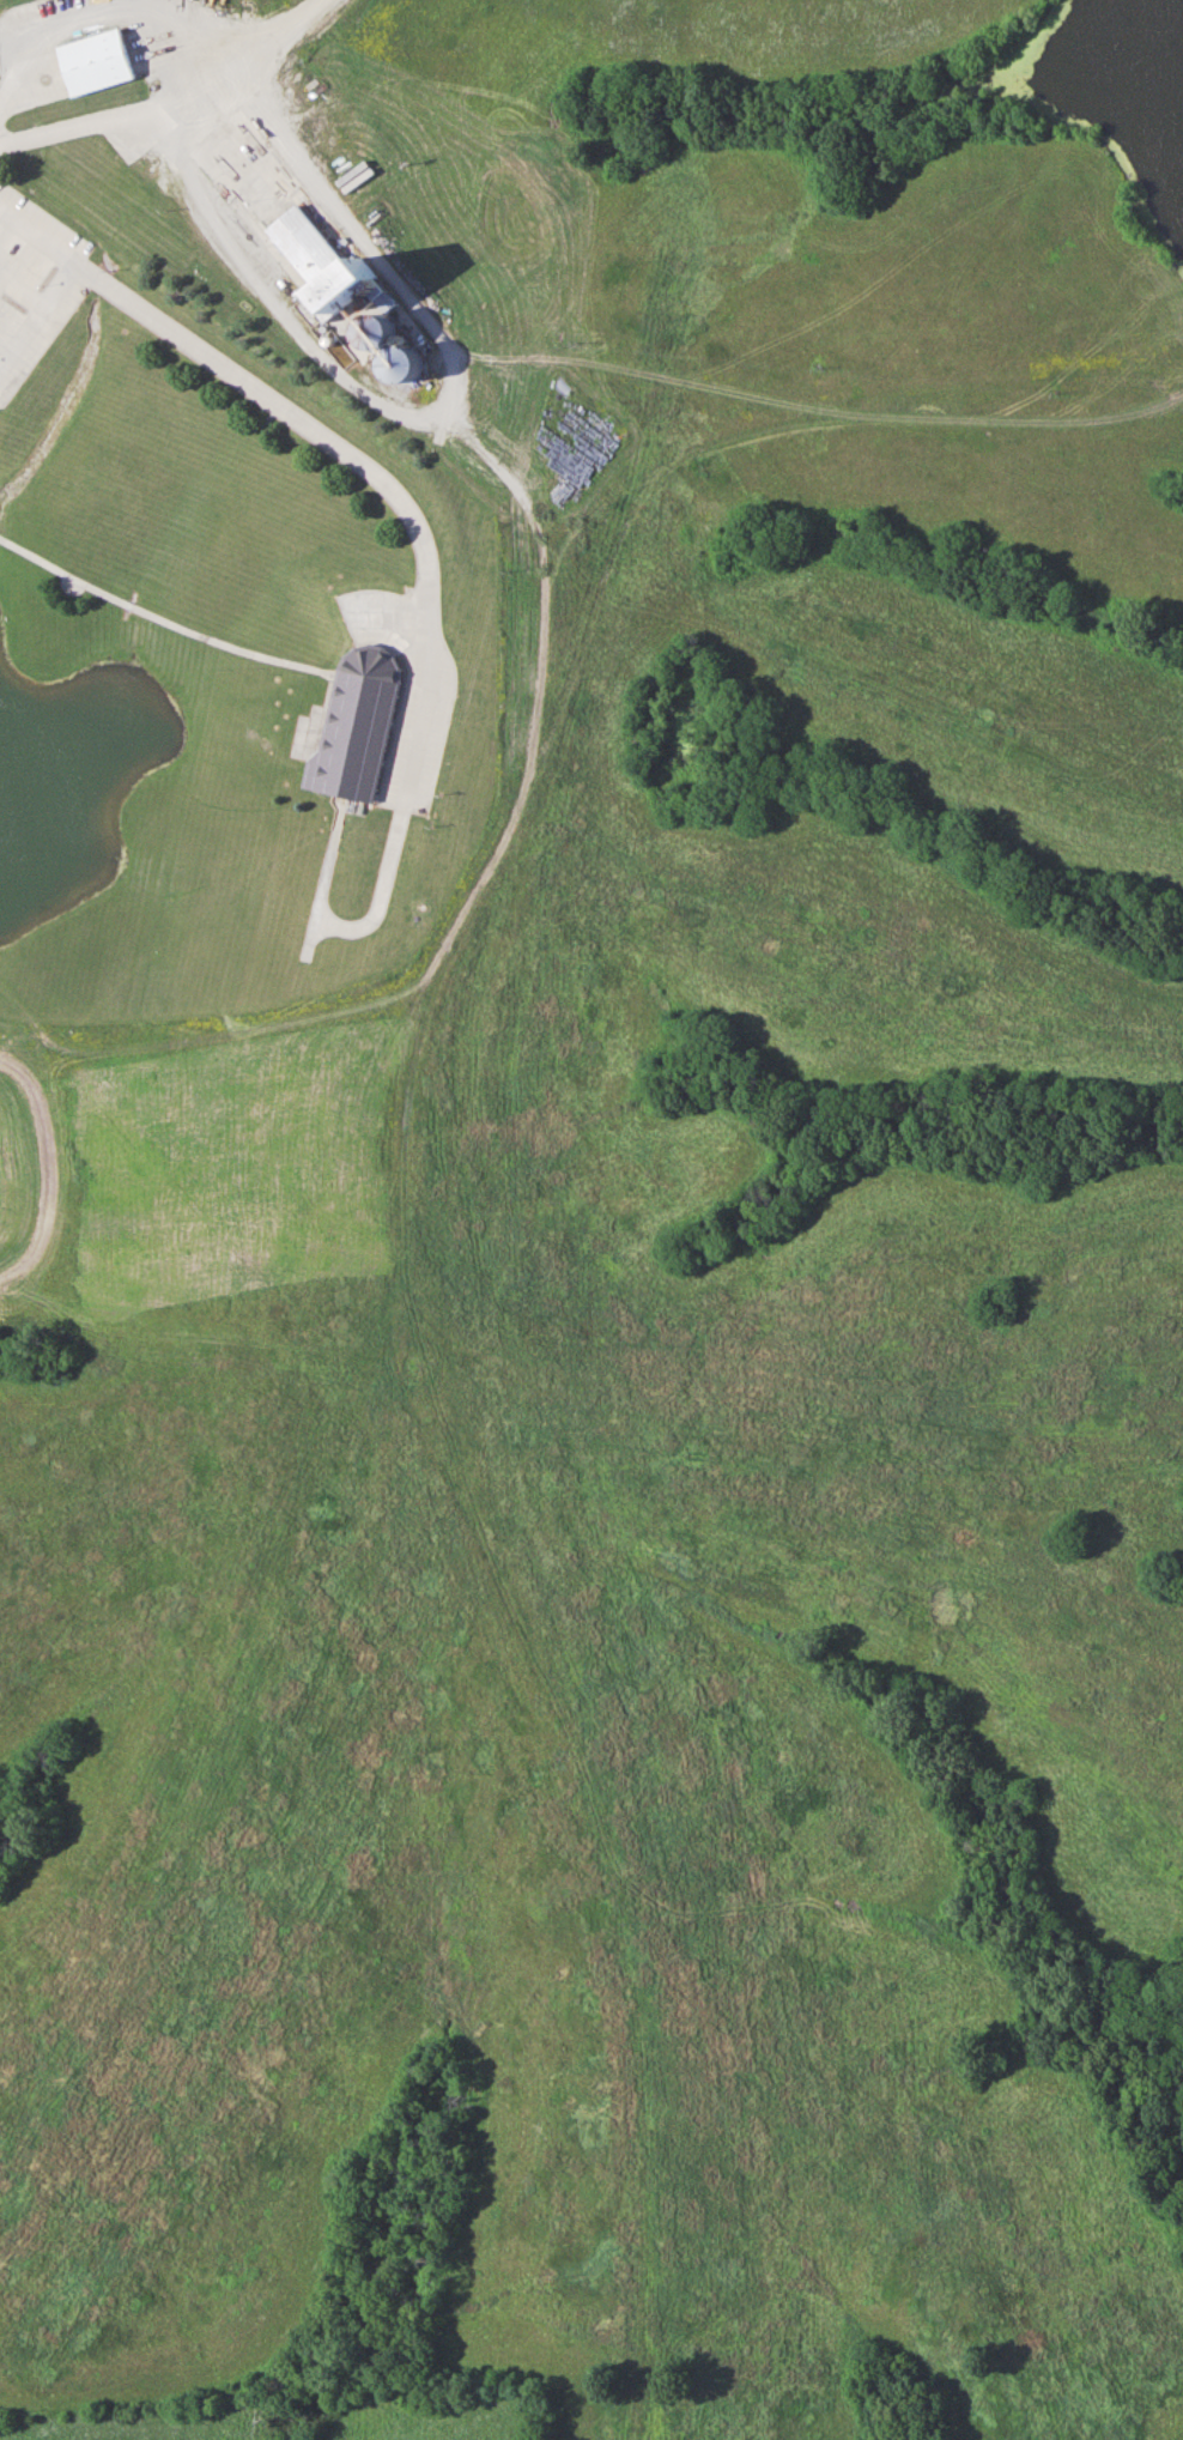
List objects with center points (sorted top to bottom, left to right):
building: (93, 63)
building: (309, 262)
building: (380, 331)
building: (358, 720)

